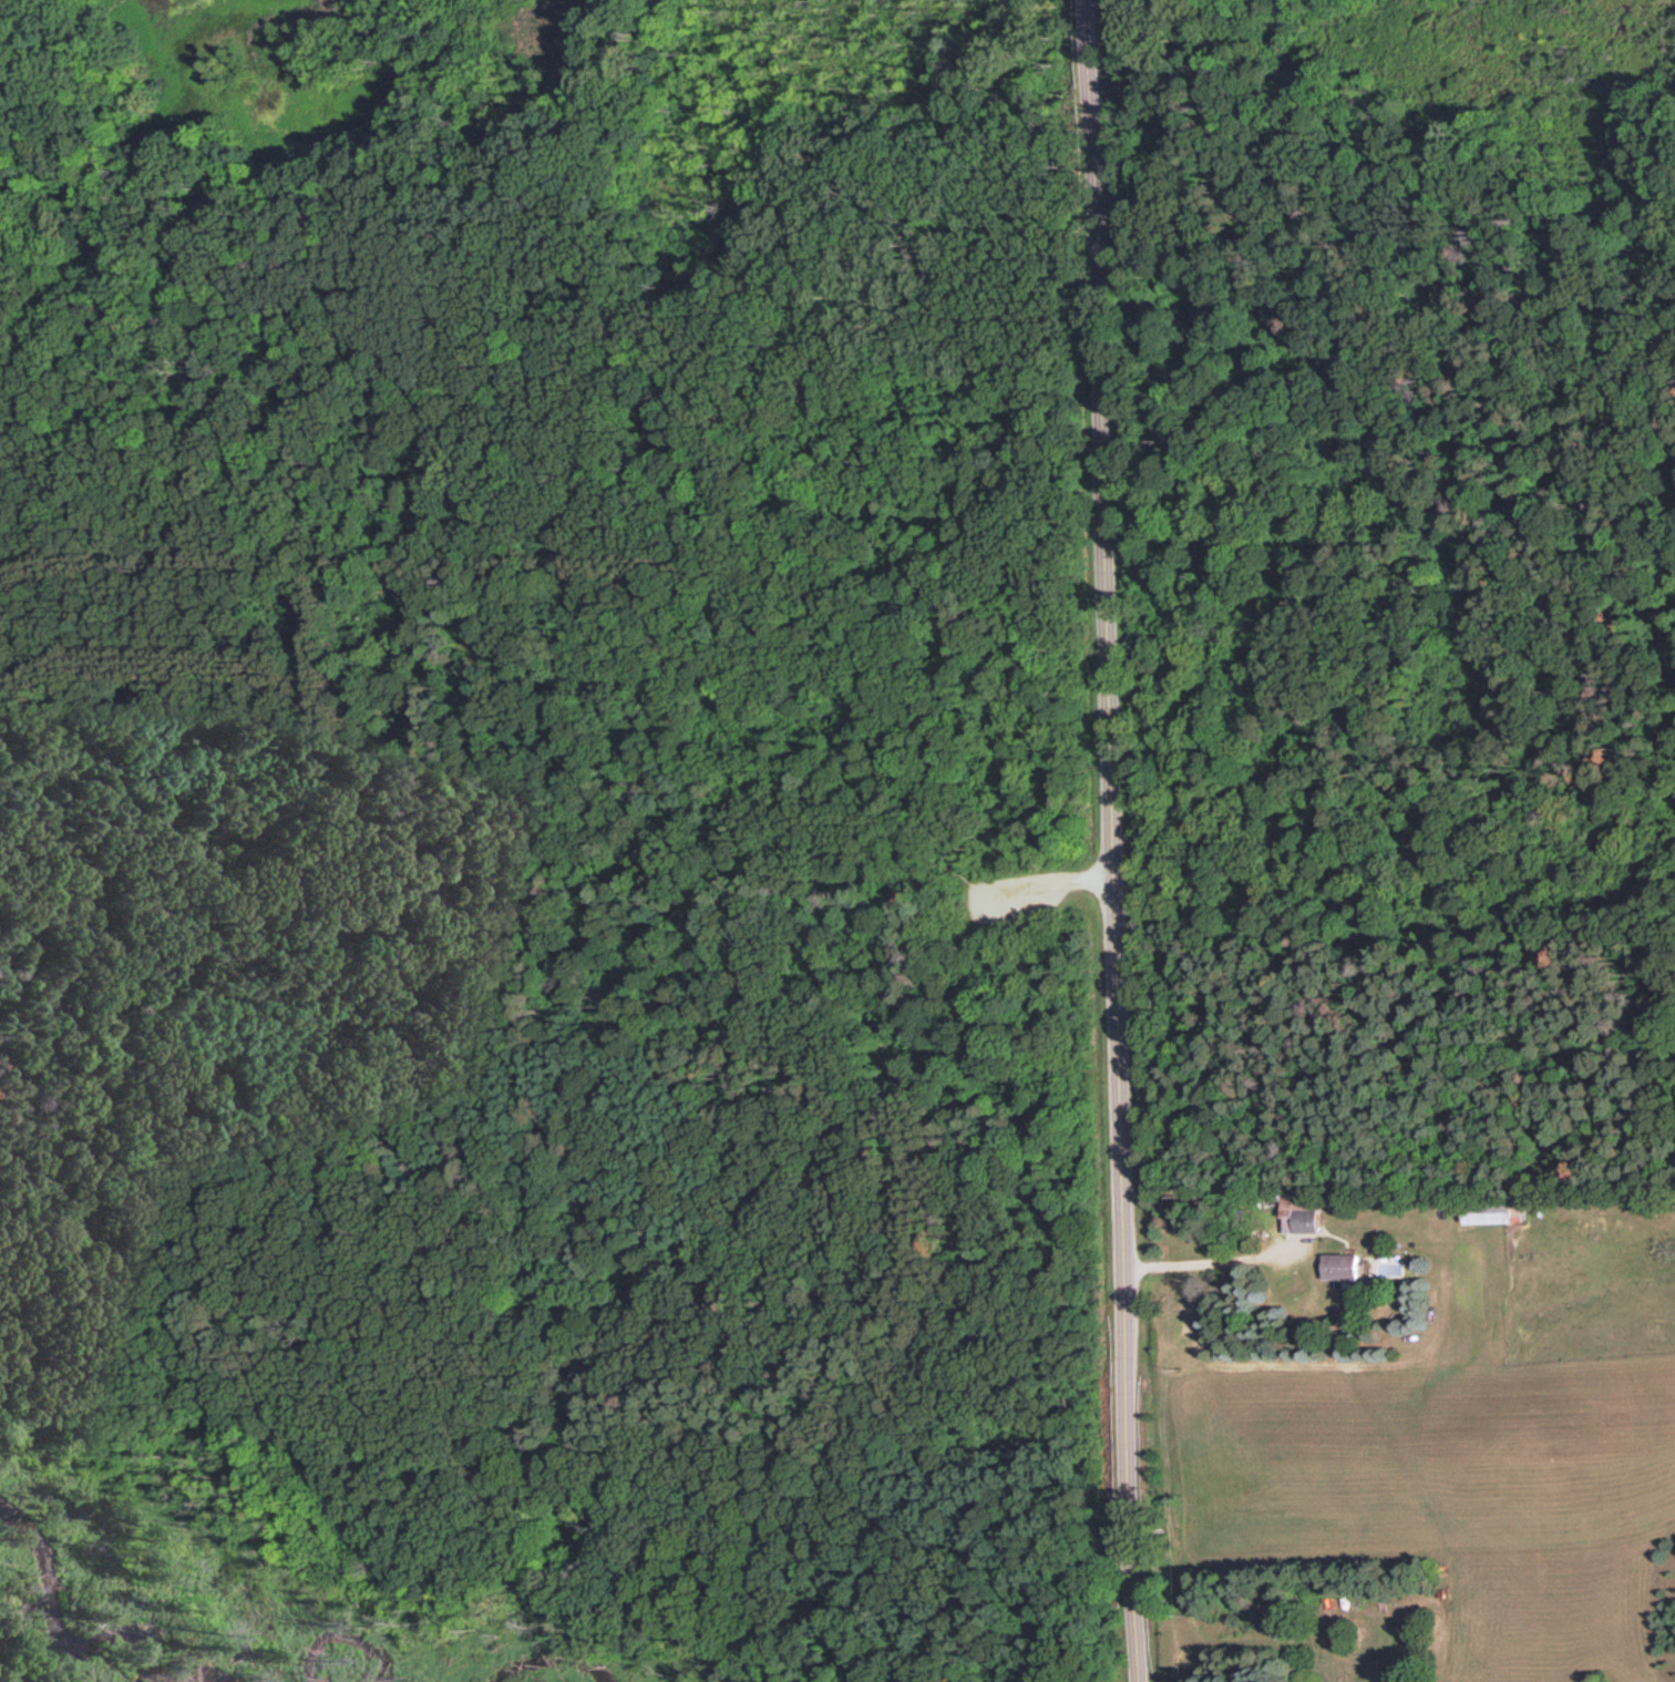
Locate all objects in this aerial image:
road: (729, 412)
road: (113, 478)
road: (1110, 840)
road: (484, 851)
parking lot: (1018, 869)
road: (1039, 870)
parking lot: (1018, 874)
building: (1487, 1212)
building: (1299, 1213)
road: (1204, 1257)
building: (1340, 1265)
road: (698, 1490)

